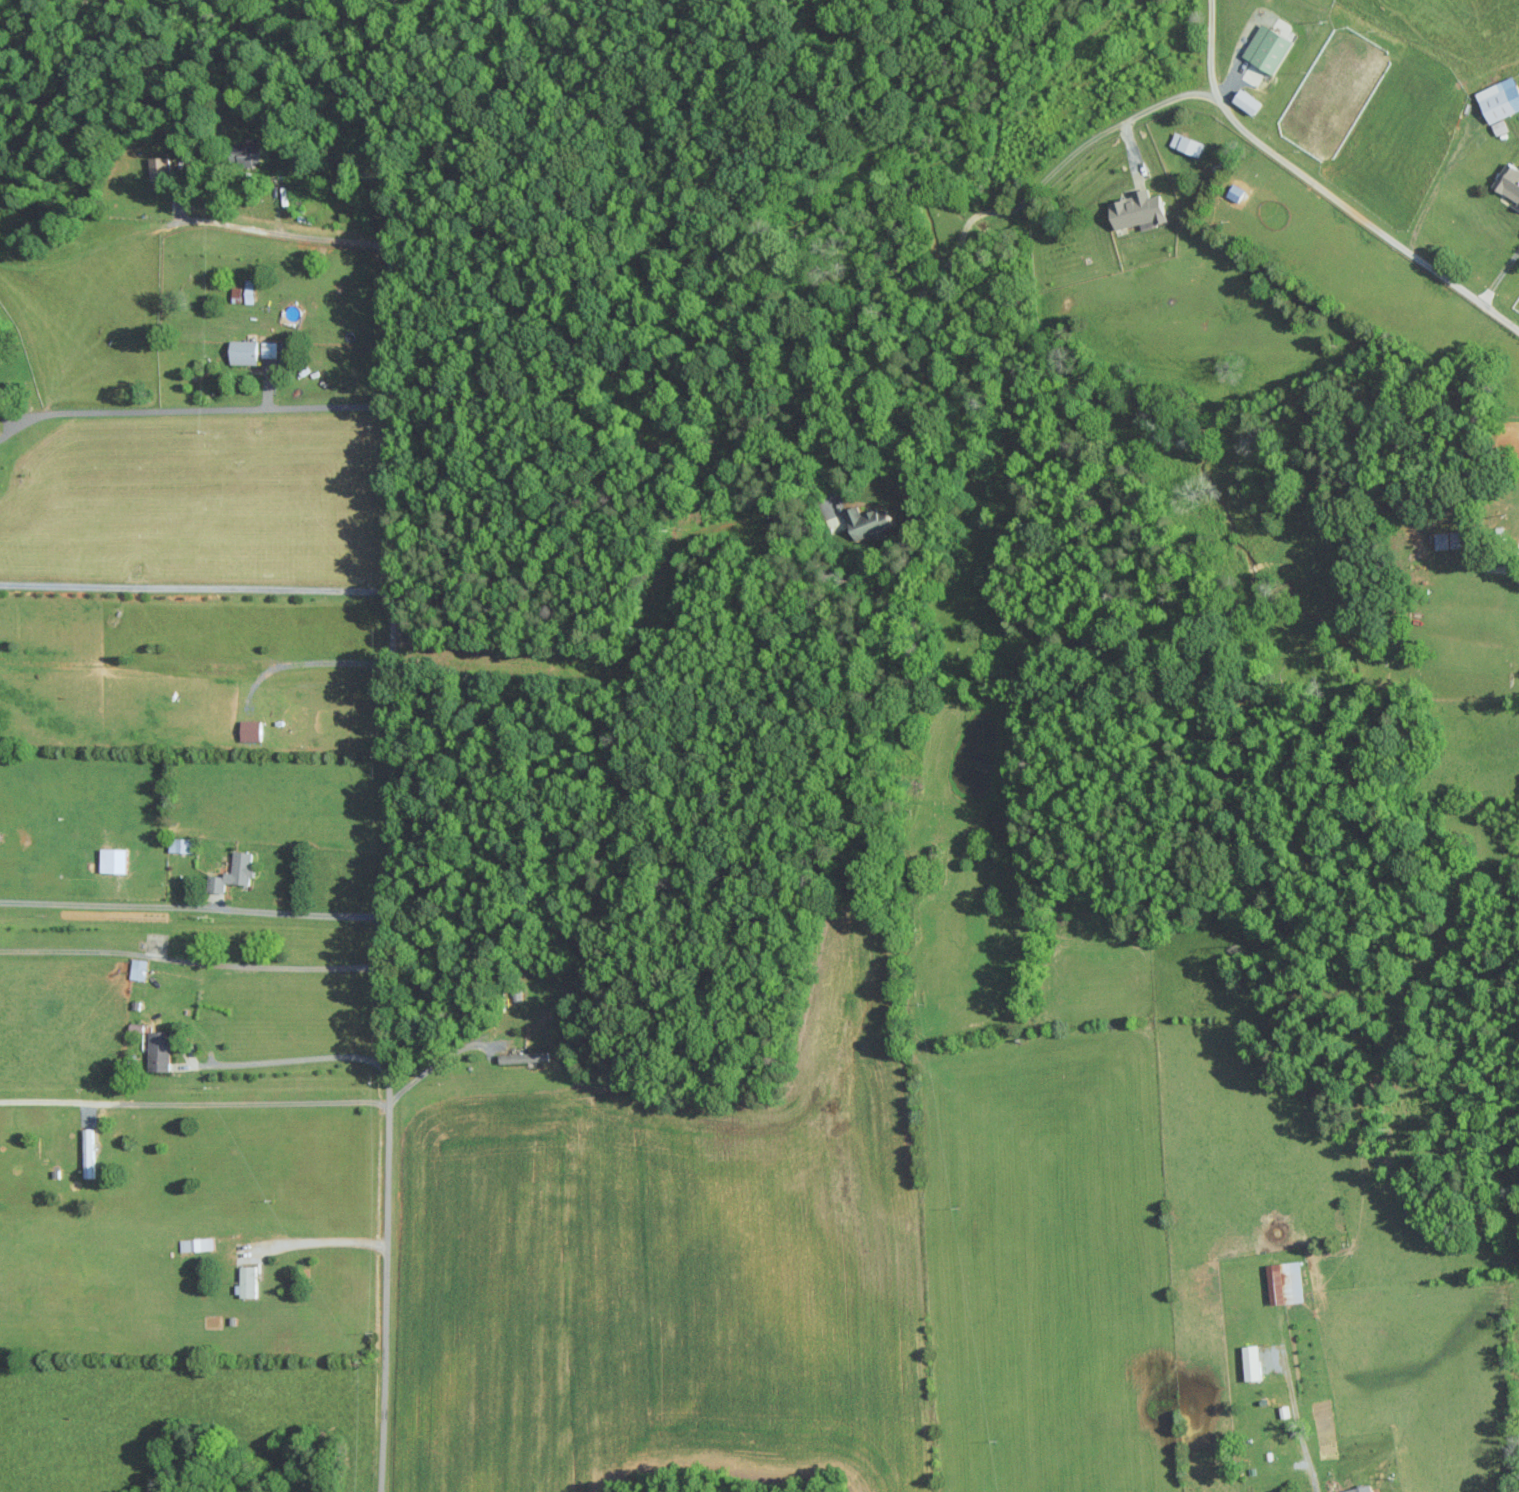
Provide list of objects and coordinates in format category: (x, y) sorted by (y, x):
building: (1268, 48)
road: (1210, 49)
building: (1249, 102)
building: (1501, 103)
road: (1116, 125)
building: (1187, 144)
building: (247, 154)
building: (160, 171)
building: (1509, 182)
road: (1437, 192)
building: (1139, 211)
road: (365, 242)
road: (1500, 278)
building: (250, 291)
building: (269, 350)
building: (244, 352)
road: (197, 409)
building: (869, 522)
road: (1517, 555)
road: (194, 587)
road: (303, 653)
building: (251, 730)
building: (180, 844)
building: (113, 860)
building: (233, 872)
road: (193, 908)
road: (193, 950)
road: (387, 954)
building: (138, 968)
building: (159, 1050)
building: (523, 1057)
road: (290, 1059)
road: (435, 1062)
road: (238, 1098)
building: (88, 1152)
road: (330, 1232)
building: (196, 1244)
building: (246, 1282)
building: (1286, 1282)
building: (1253, 1362)
road: (1295, 1417)
building: (1360, 1489)

